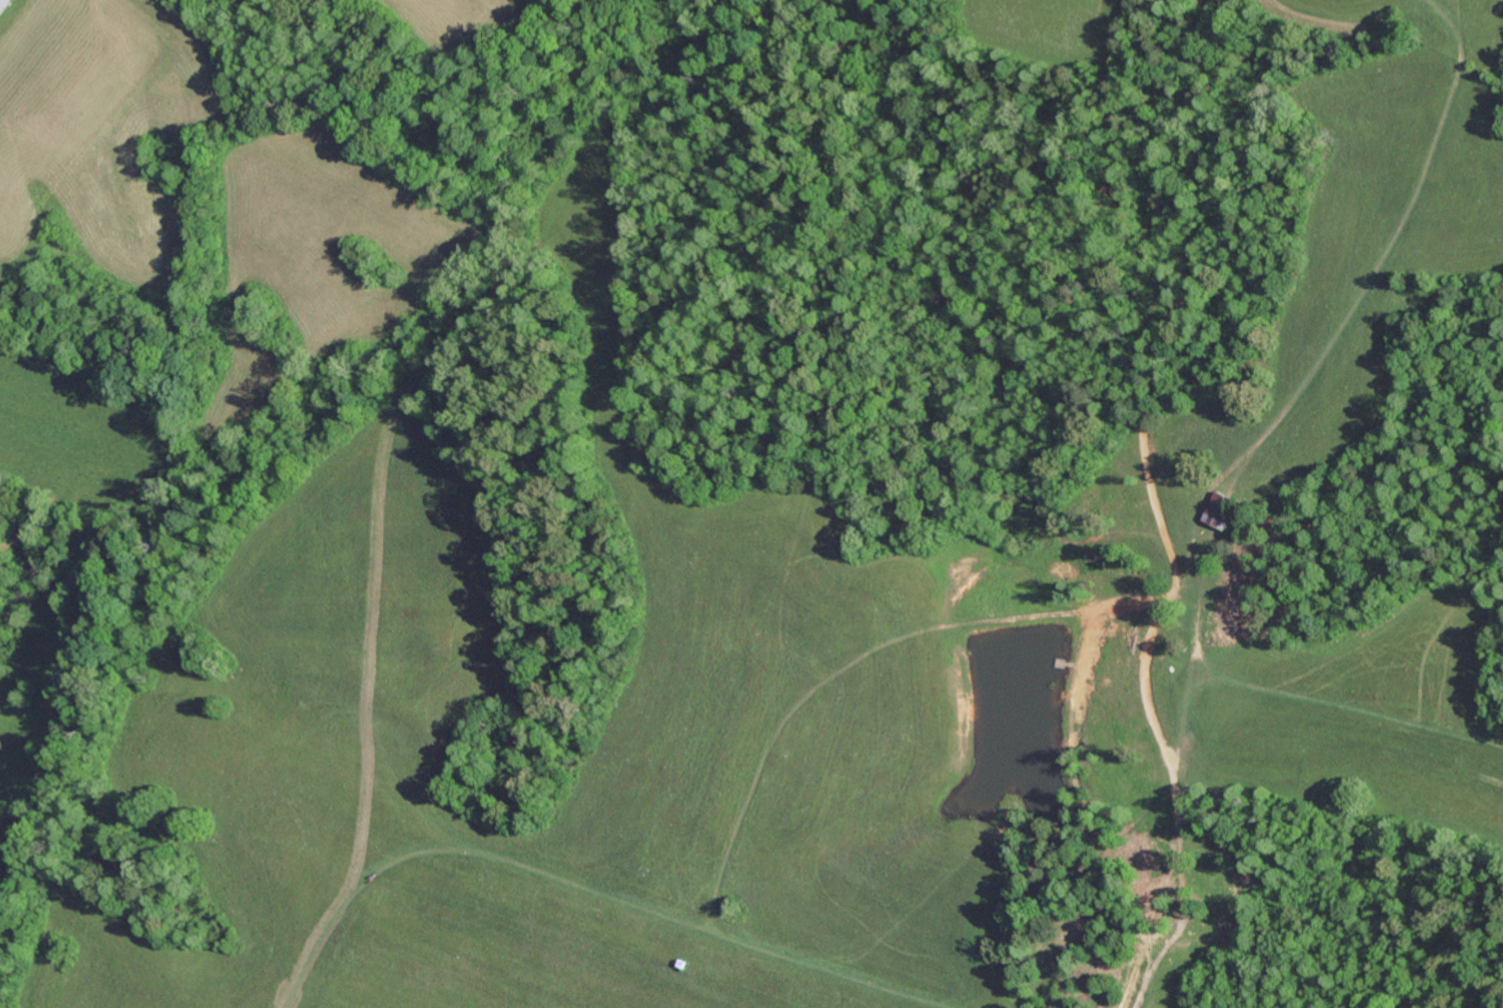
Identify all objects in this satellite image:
building: (4, 7)
building: (1222, 510)

